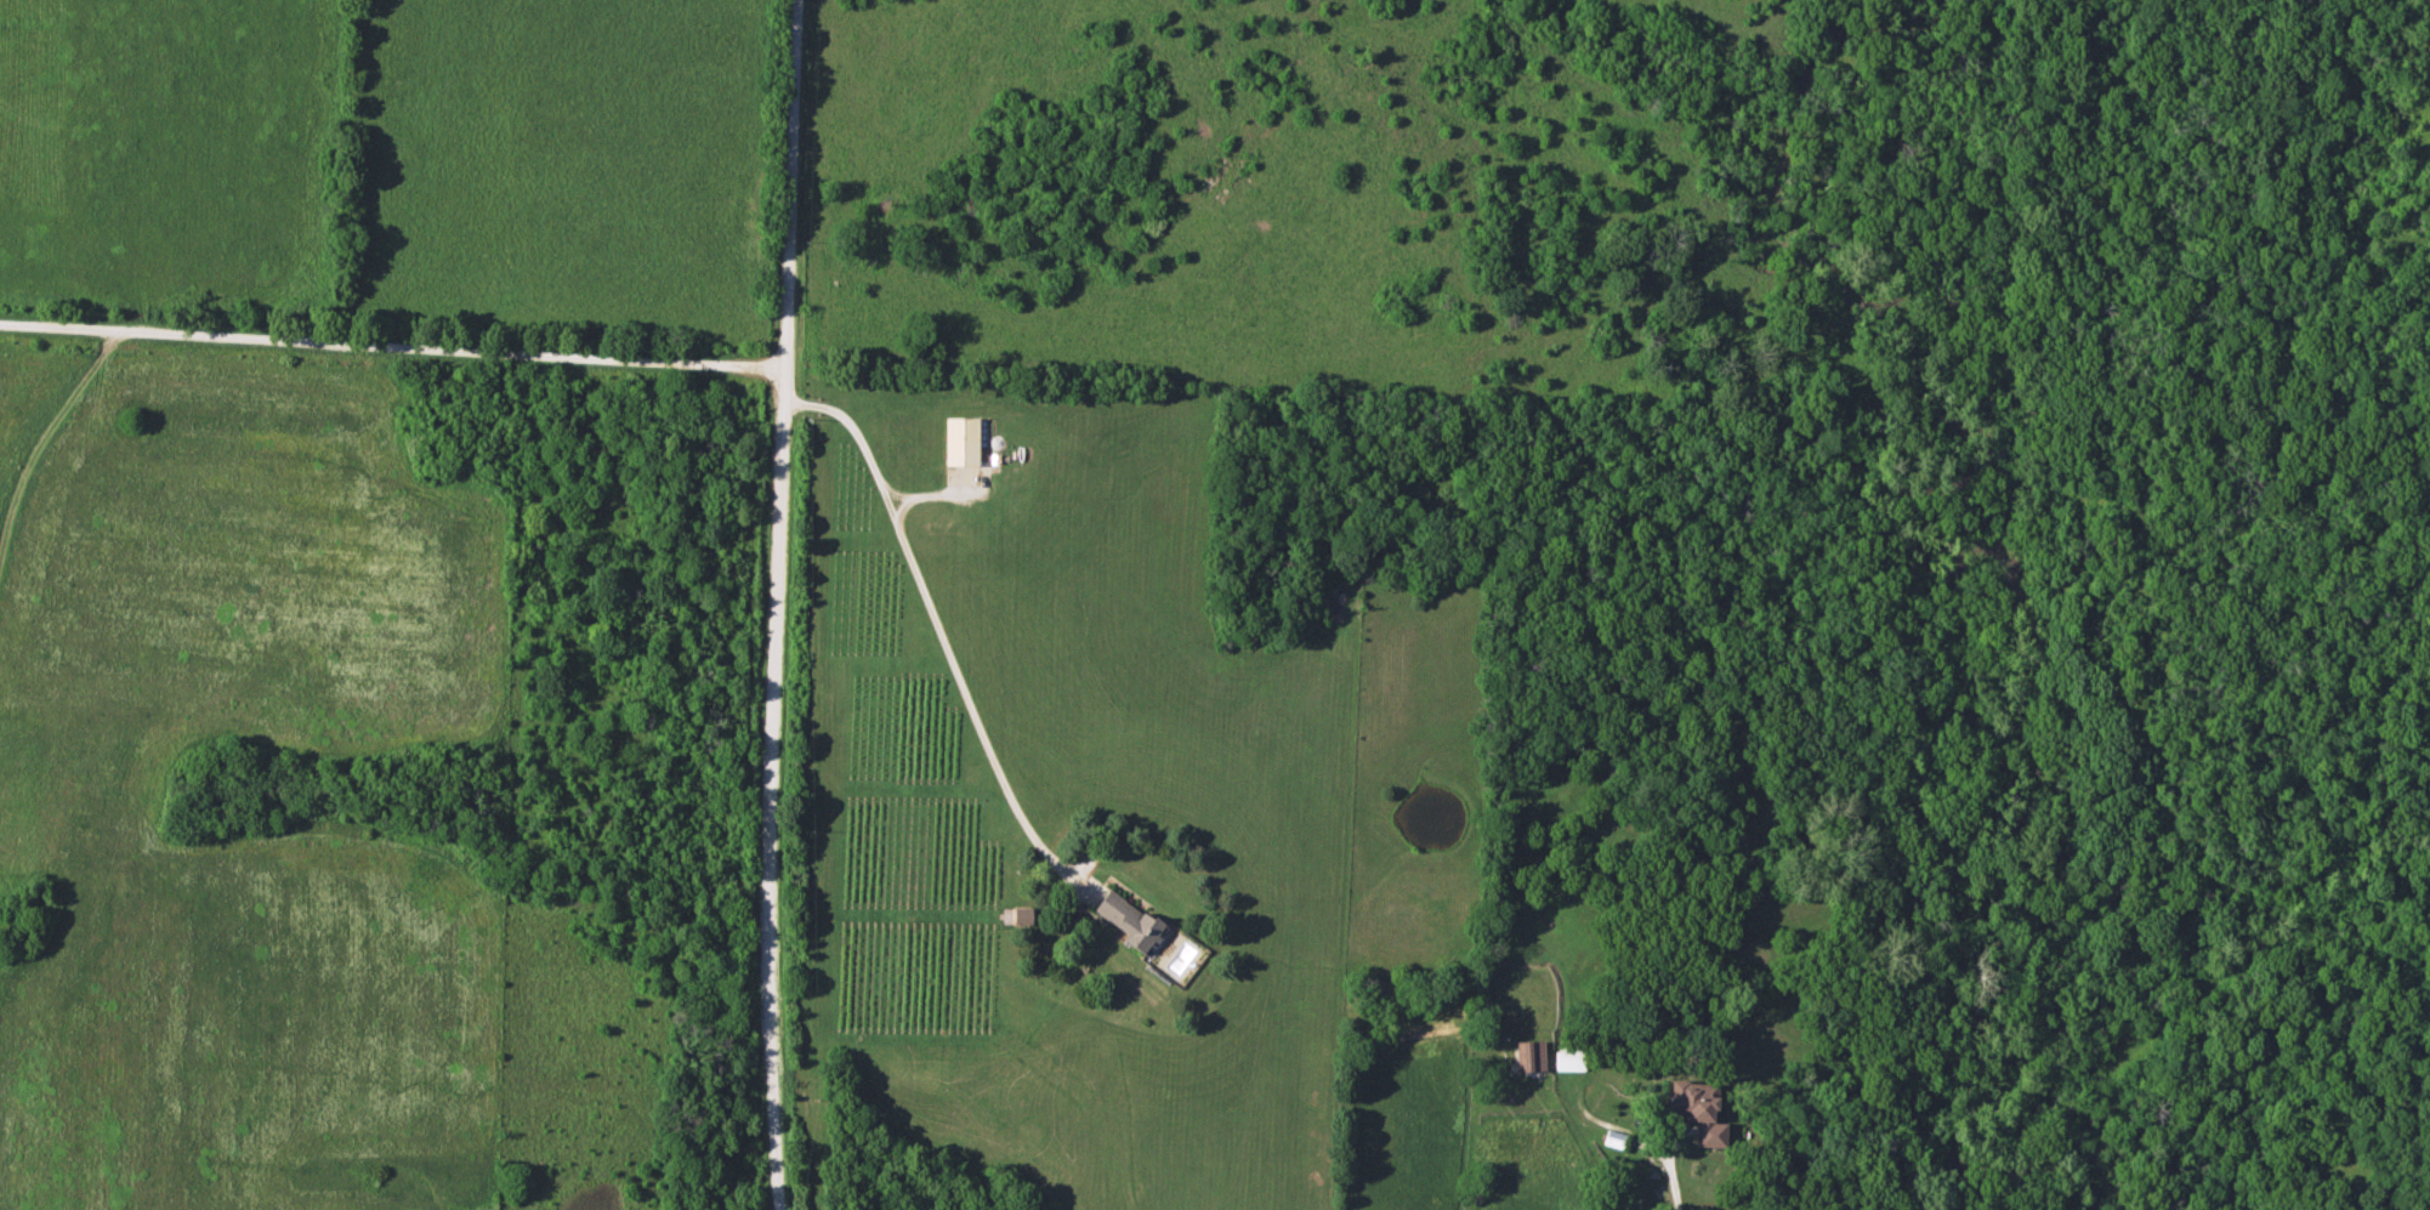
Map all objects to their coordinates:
road: (392, 346)
building: (958, 442)
road: (776, 604)
road: (937, 624)
building: (1125, 920)
building: (1527, 1056)
building: (1567, 1056)
building: (1694, 1110)
building: (1612, 1140)
road: (1671, 1169)

